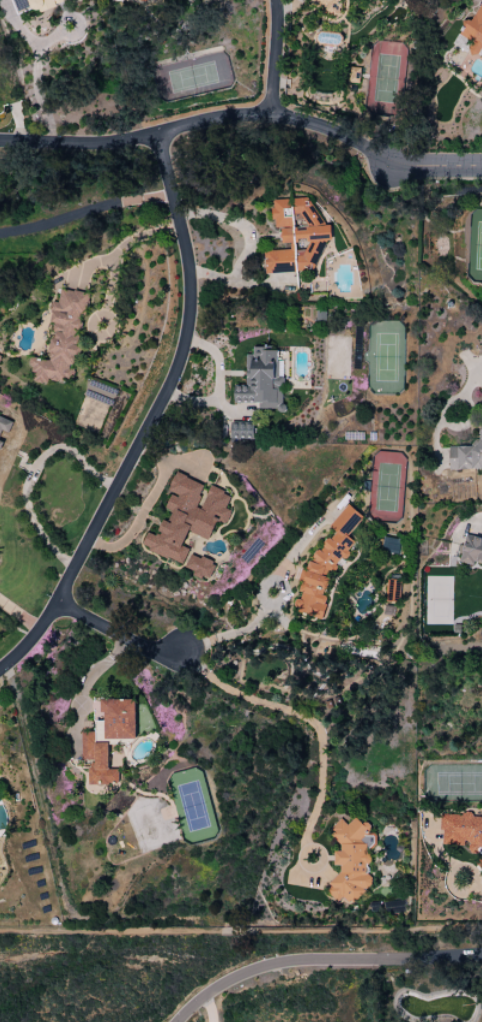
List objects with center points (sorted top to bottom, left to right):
building: (36, 4)
building: (326, 4)
road: (287, 6)
building: (474, 30)
road: (272, 56)
road: (36, 67)
building: (354, 75)
road: (276, 114)
road: (434, 166)
road: (86, 214)
building: (296, 237)
road: (247, 241)
road: (121, 250)
road: (108, 334)
building: (61, 338)
road: (183, 346)
building: (0, 357)
building: (262, 380)
road: (468, 386)
building: (481, 390)
building: (5, 424)
building: (242, 431)
building: (1, 444)
building: (466, 456)
road: (26, 475)
building: (187, 517)
building: (389, 545)
building: (471, 549)
building: (325, 564)
building: (200, 566)
road: (20, 615)
road: (115, 635)
road: (217, 638)
road: (305, 719)
building: (107, 739)
building: (462, 831)
road: (435, 847)
building: (350, 860)
road: (452, 877)
road: (475, 888)
road: (181, 929)
road: (422, 930)
road: (362, 945)
road: (320, 962)
road: (207, 1009)

